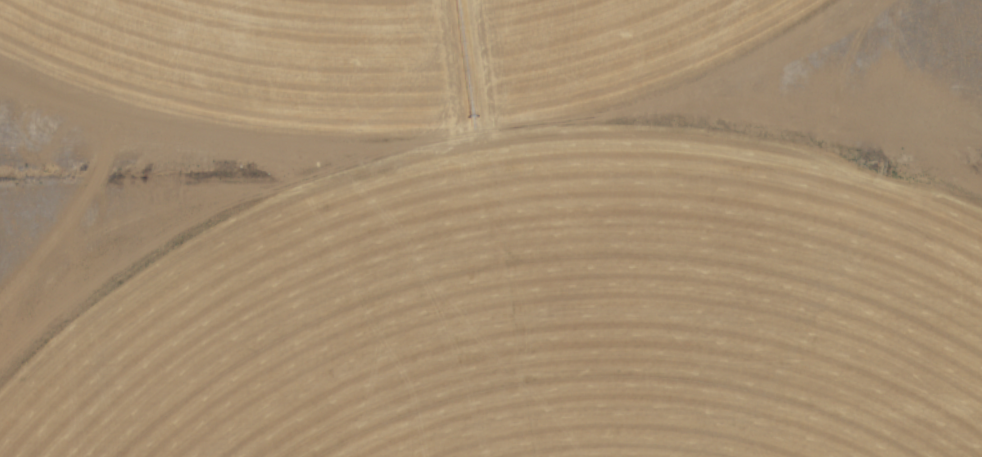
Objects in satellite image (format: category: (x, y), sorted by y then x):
crop: (491, 228)

